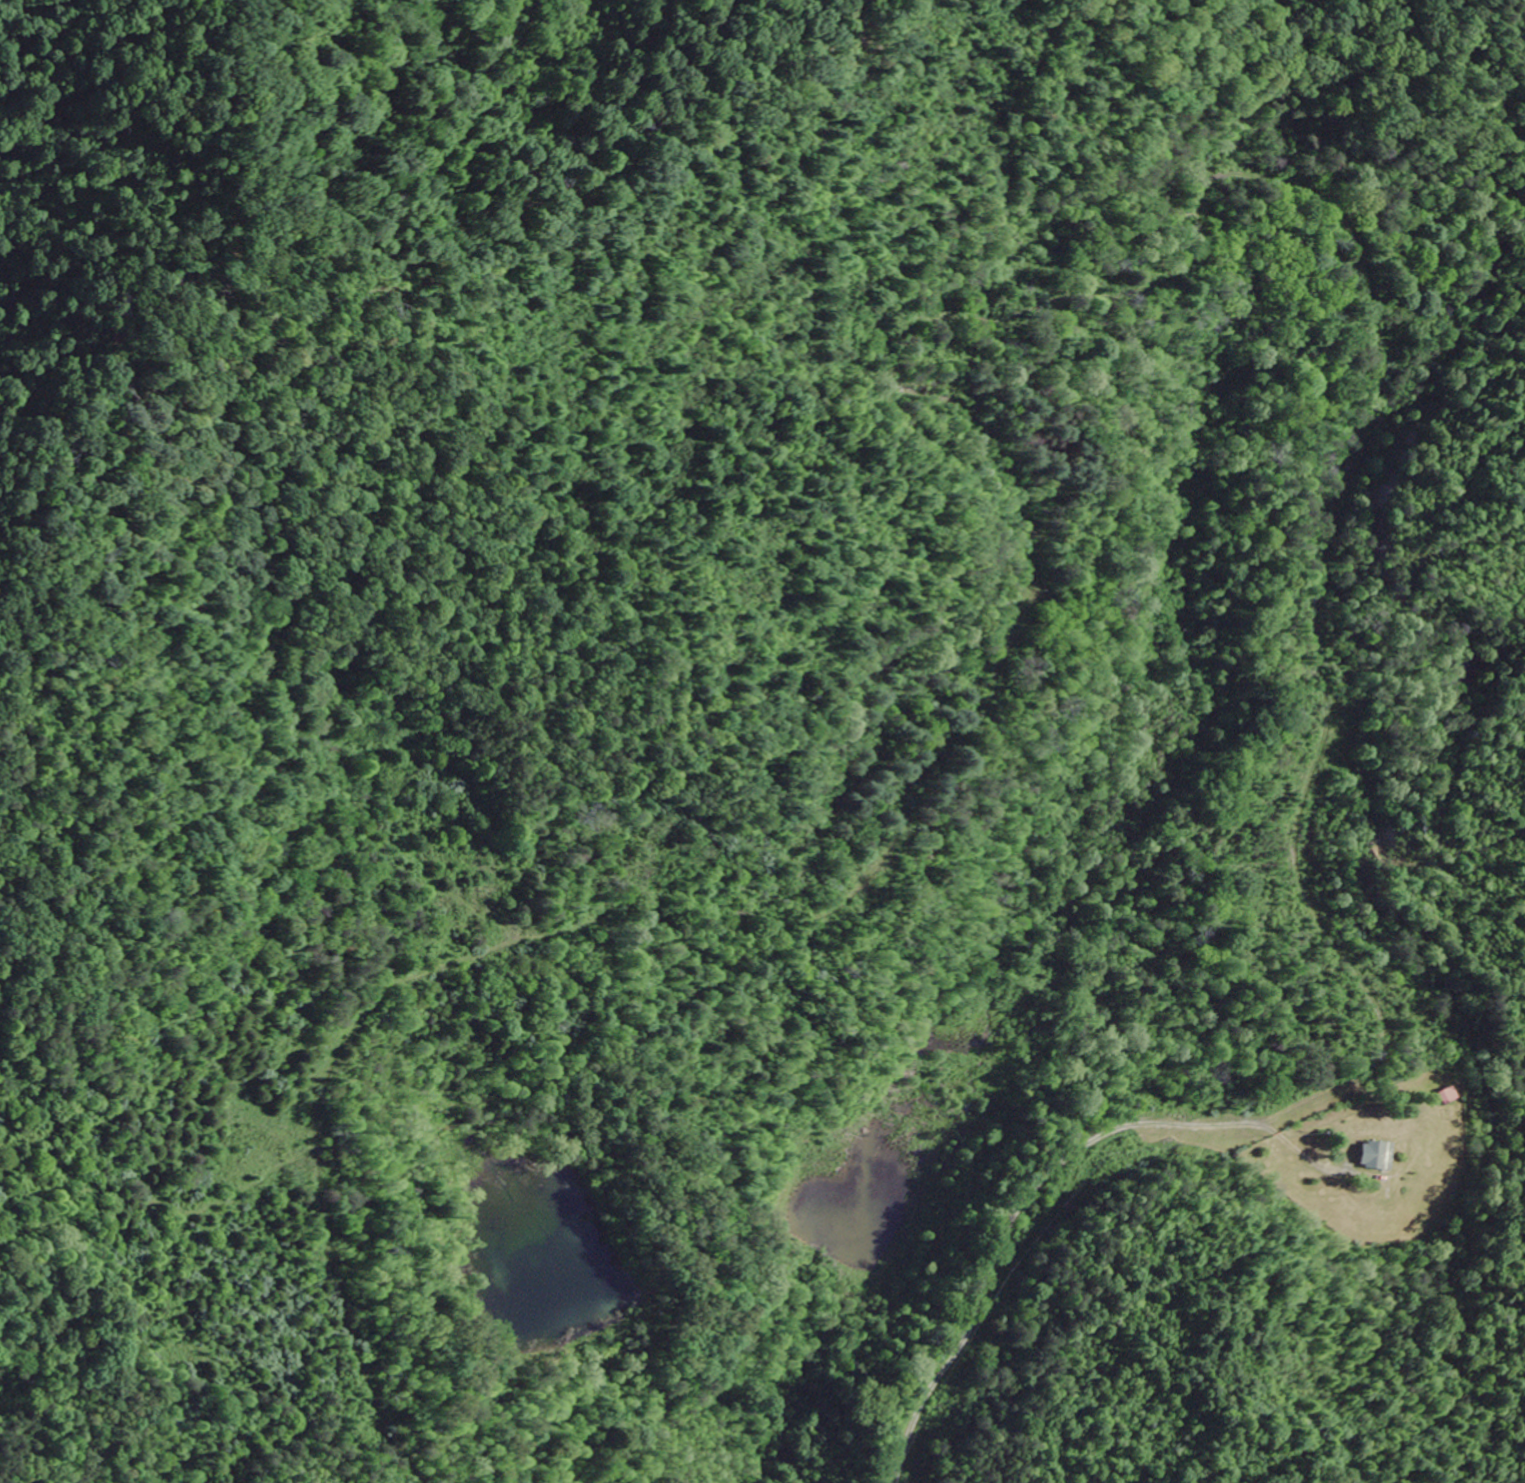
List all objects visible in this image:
building: (1452, 1095)
building: (1377, 1156)

